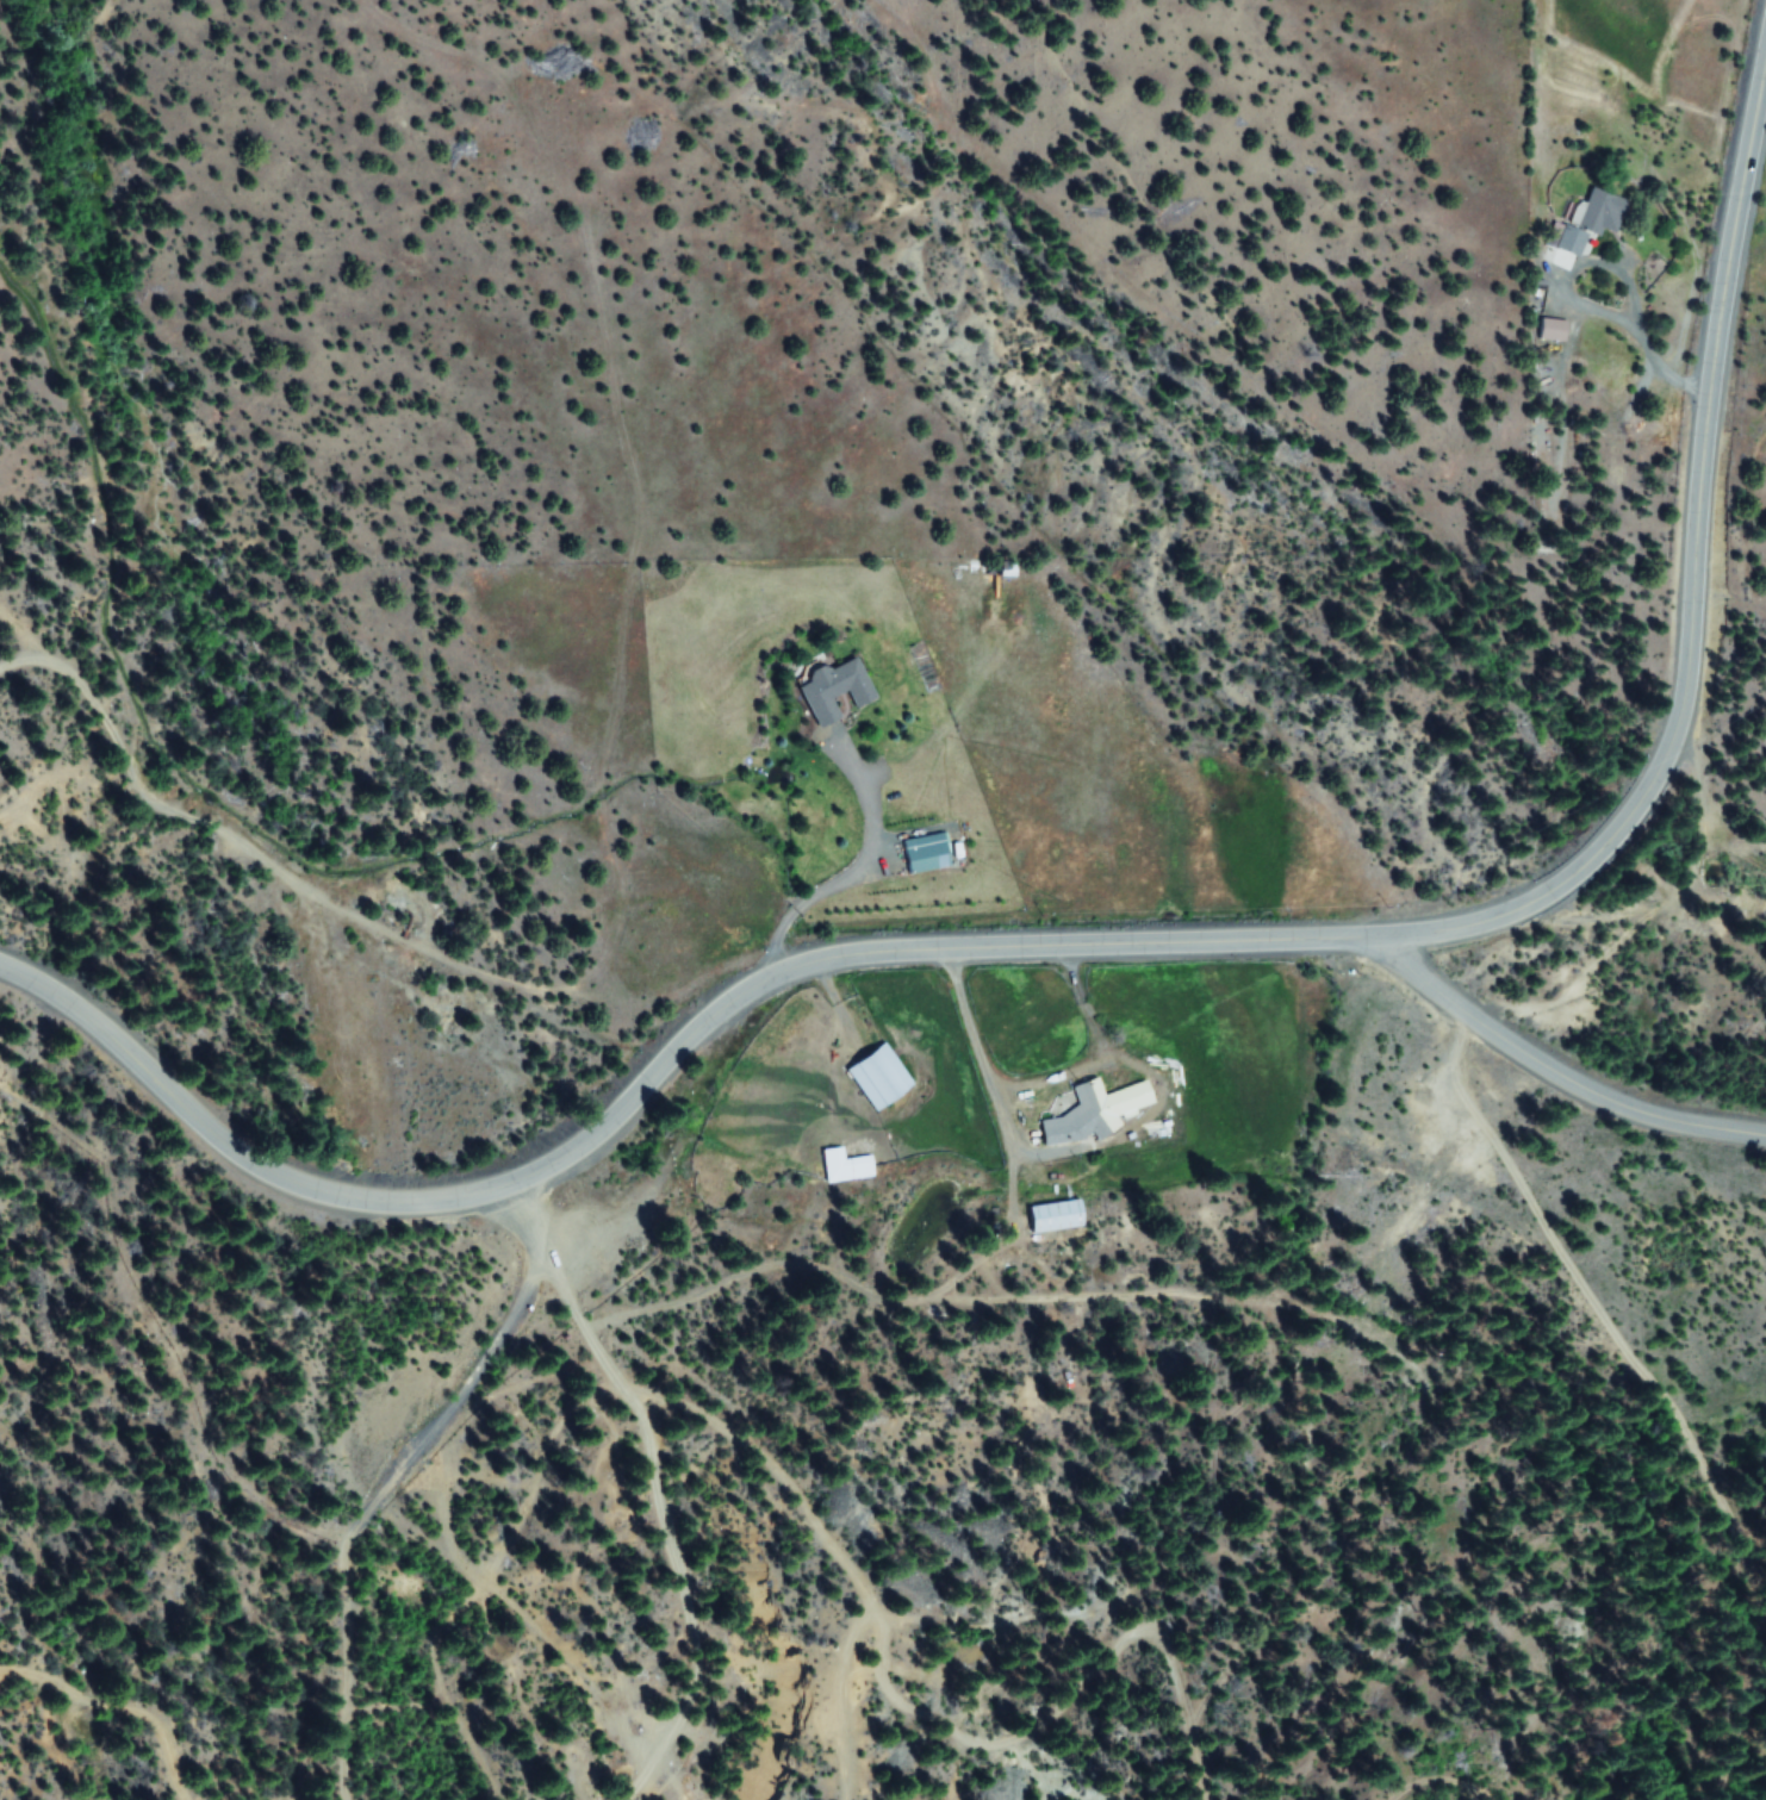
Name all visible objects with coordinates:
building: (1588, 220)
building: (1549, 330)
road: (1636, 336)
building: (833, 690)
building: (924, 854)
road: (852, 874)
road: (1132, 942)
road: (1093, 1051)
road: (1554, 1071)
road: (985, 1073)
building: (877, 1077)
building: (1092, 1113)
building: (842, 1166)
building: (1053, 1216)

